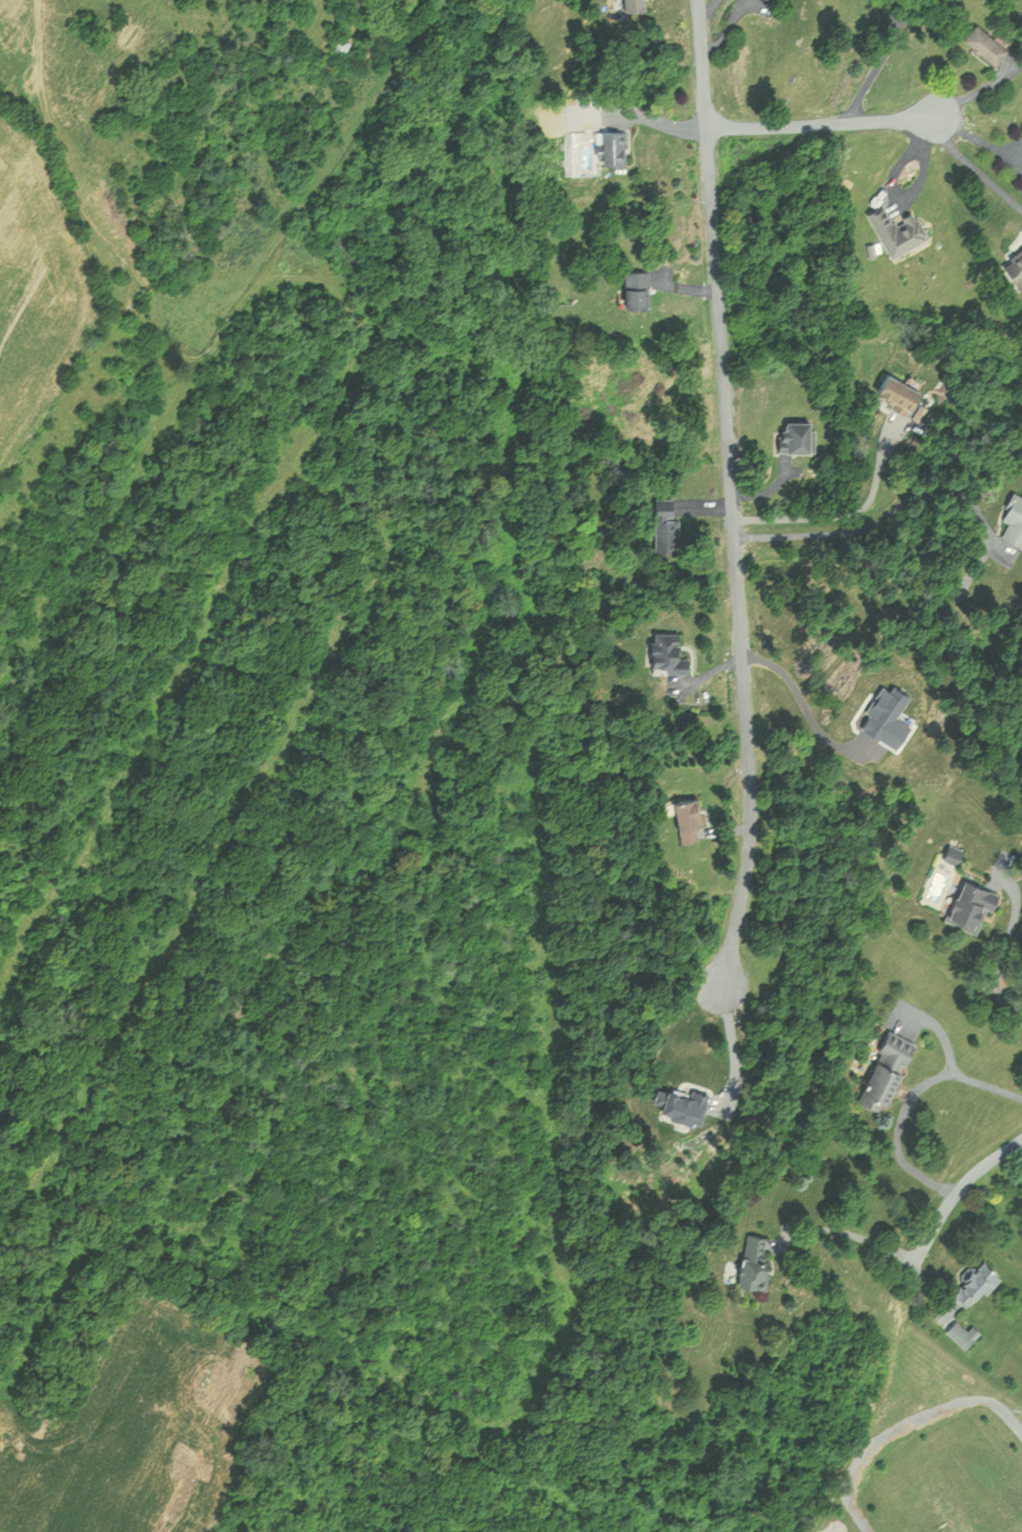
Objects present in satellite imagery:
building: (632, 3)
building: (984, 41)
building: (338, 47)
road: (867, 60)
road: (821, 122)
building: (611, 144)
road: (975, 166)
building: (897, 229)
building: (1016, 267)
building: (636, 287)
building: (896, 389)
building: (796, 434)
road: (730, 494)
road: (848, 512)
road: (885, 514)
building: (1013, 517)
building: (665, 524)
building: (667, 653)
building: (687, 818)
building: (968, 903)
road: (1001, 949)
road: (729, 1051)
building: (884, 1069)
road: (906, 1097)
road: (959, 1187)
road: (849, 1231)
building: (753, 1259)
building: (975, 1282)
building: (959, 1331)

